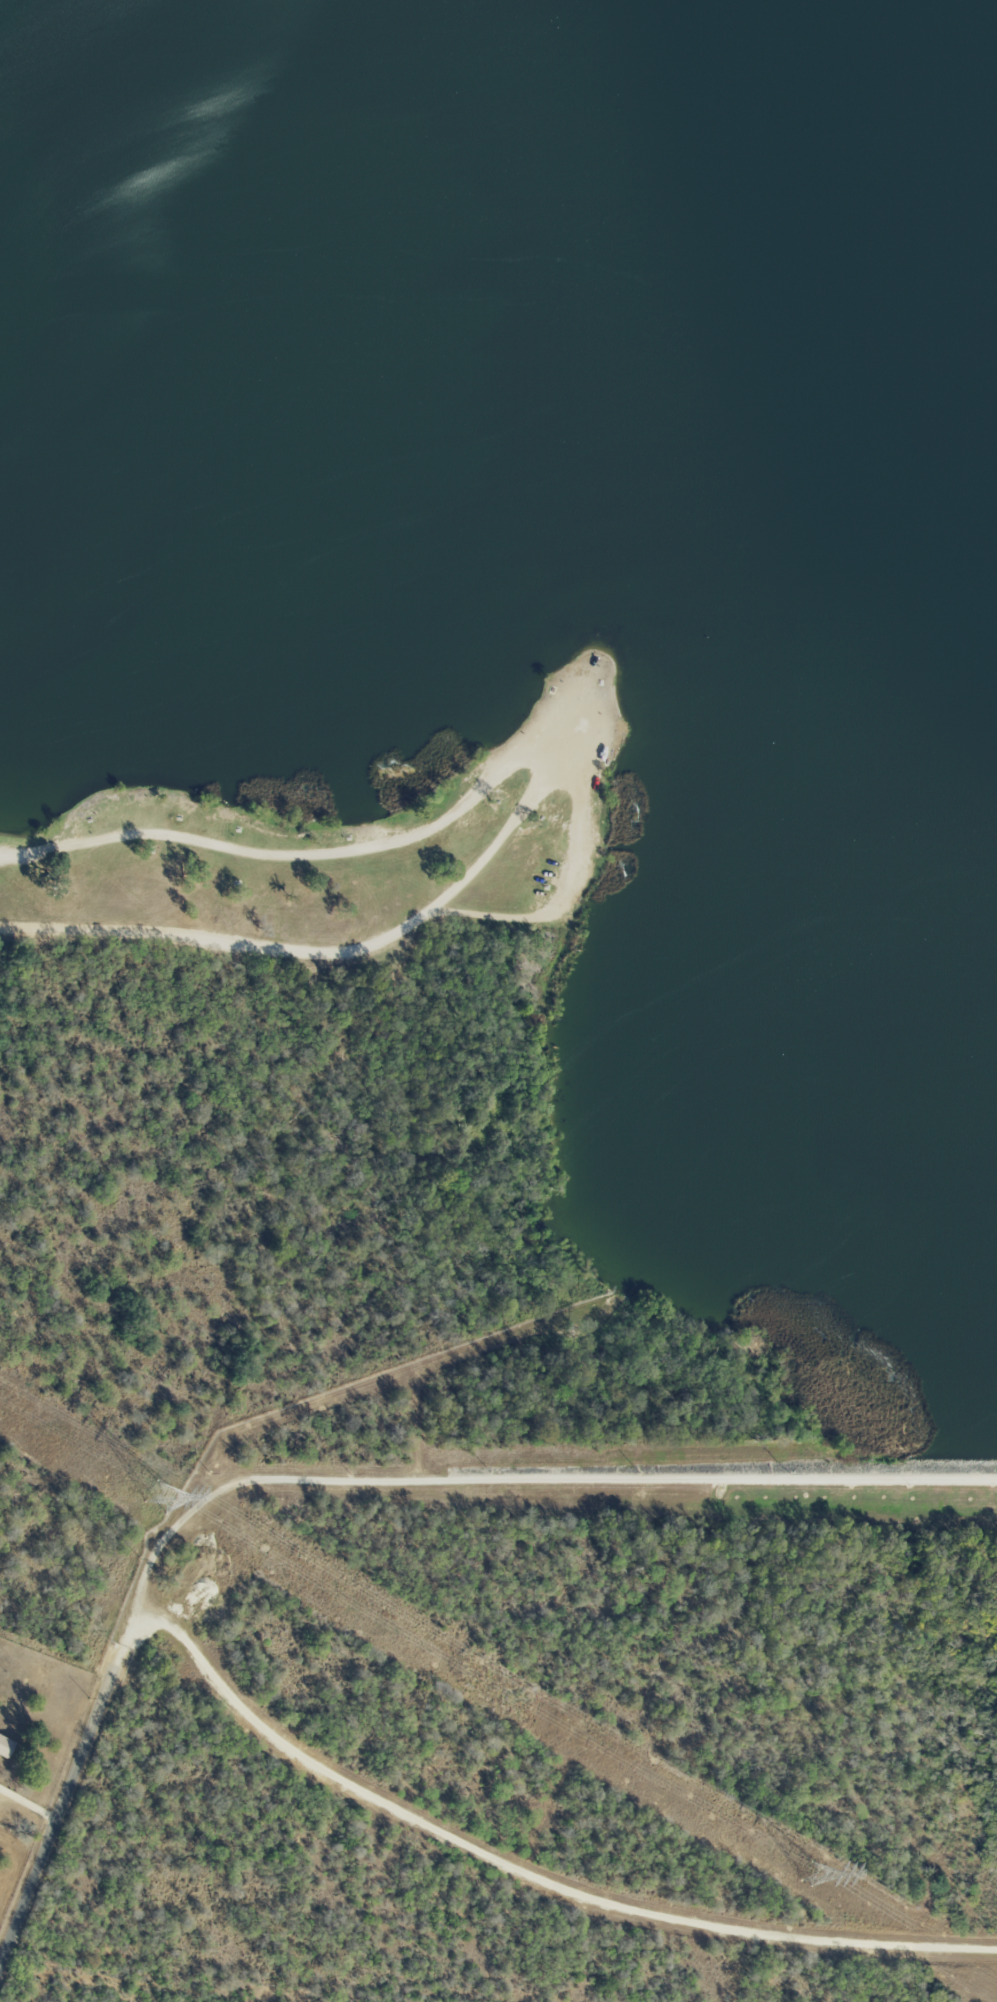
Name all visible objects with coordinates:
road: (437, 824)
road: (12, 853)
park: (336, 859)
road: (323, 949)
road: (479, 1477)
dam: (952, 1478)
road: (952, 1478)
power tower: (160, 1496)
building: (4, 1746)
road: (59, 1806)
power tower: (809, 1871)
road: (505, 1881)

